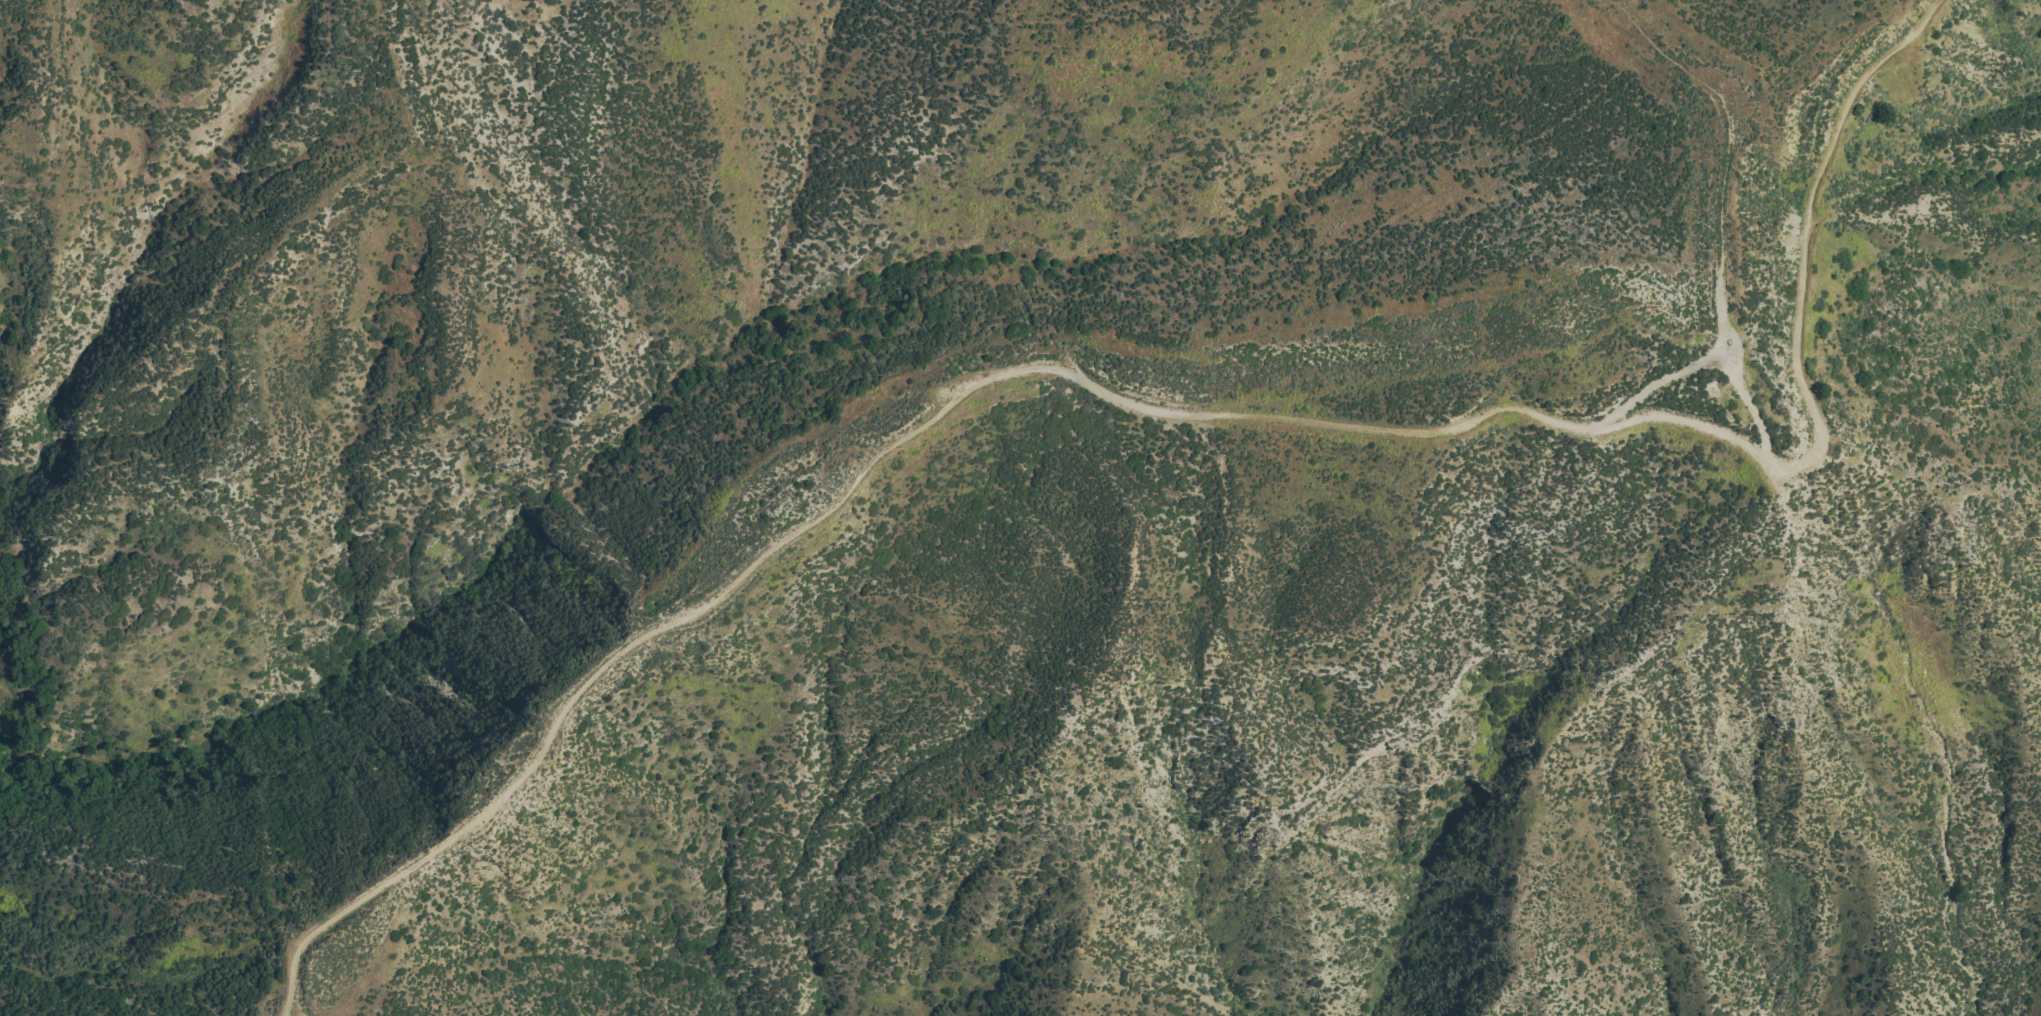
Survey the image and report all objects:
road: (1725, 115)
road: (1683, 367)
road: (1751, 402)
road: (1173, 412)

